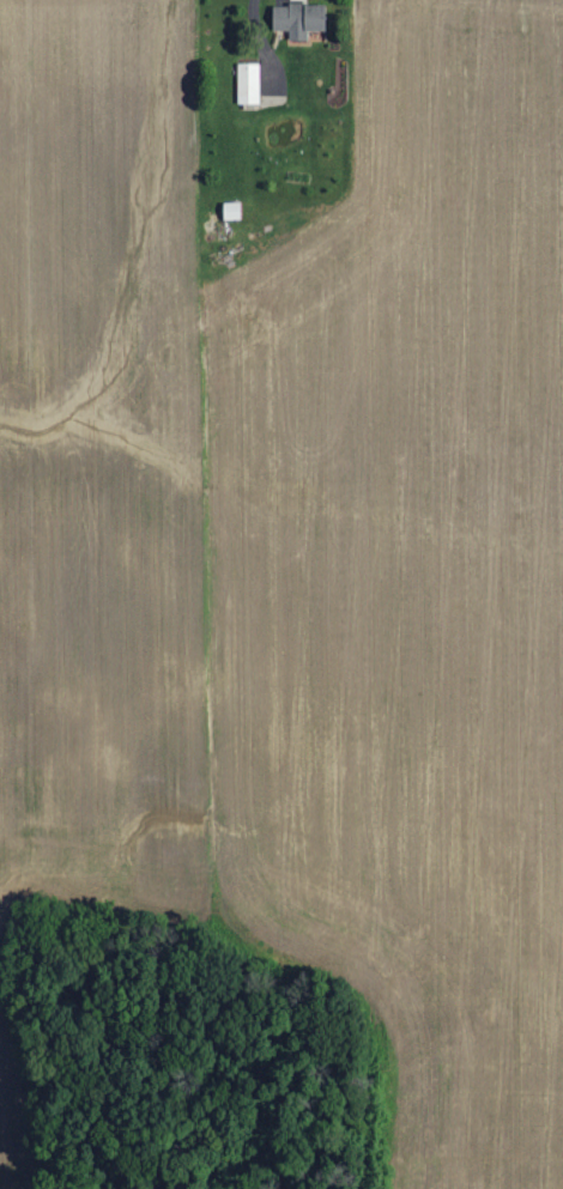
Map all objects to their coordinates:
building: (301, 20)
building: (249, 84)
building: (232, 212)

